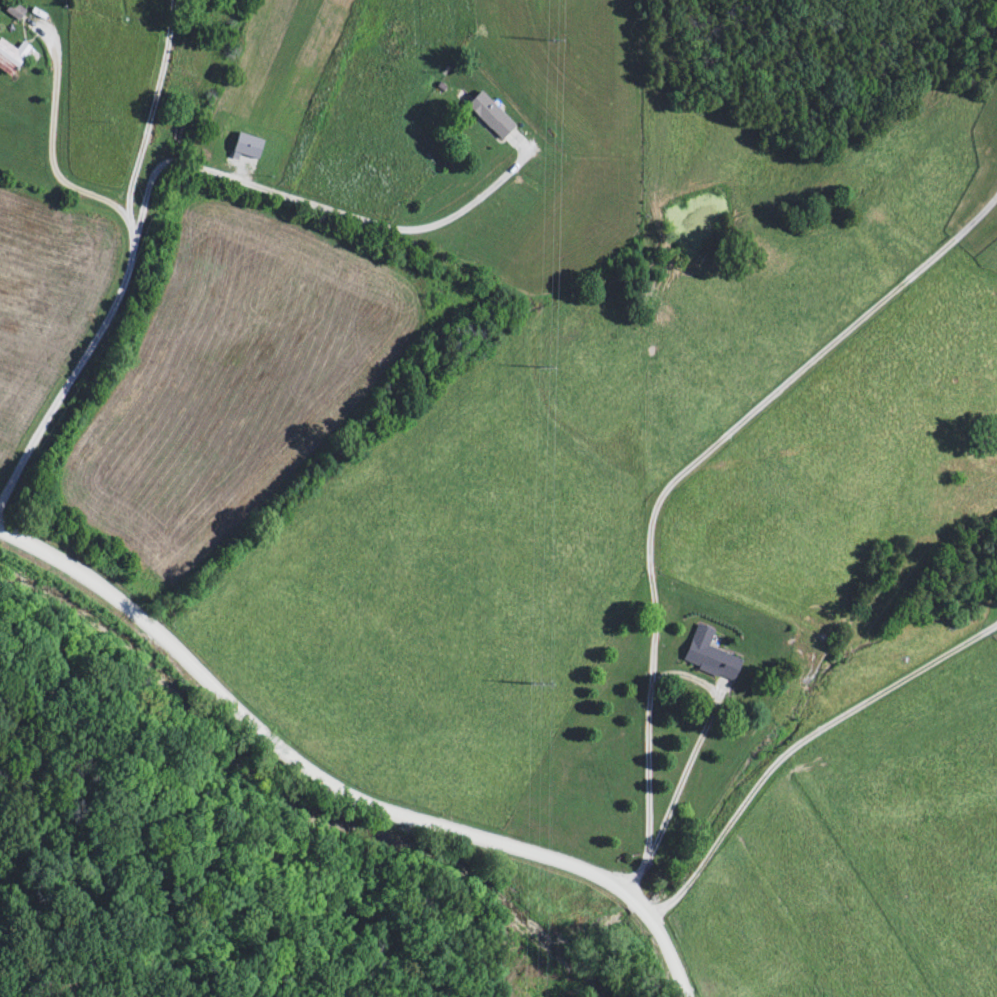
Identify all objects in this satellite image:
building: (15, 12)
power tower: (550, 43)
building: (9, 61)
building: (490, 117)
road: (207, 172)
road: (133, 270)
power tower: (543, 367)
road: (676, 484)
building: (709, 656)
power tower: (536, 688)
road: (798, 742)
road: (701, 748)
road: (338, 790)

